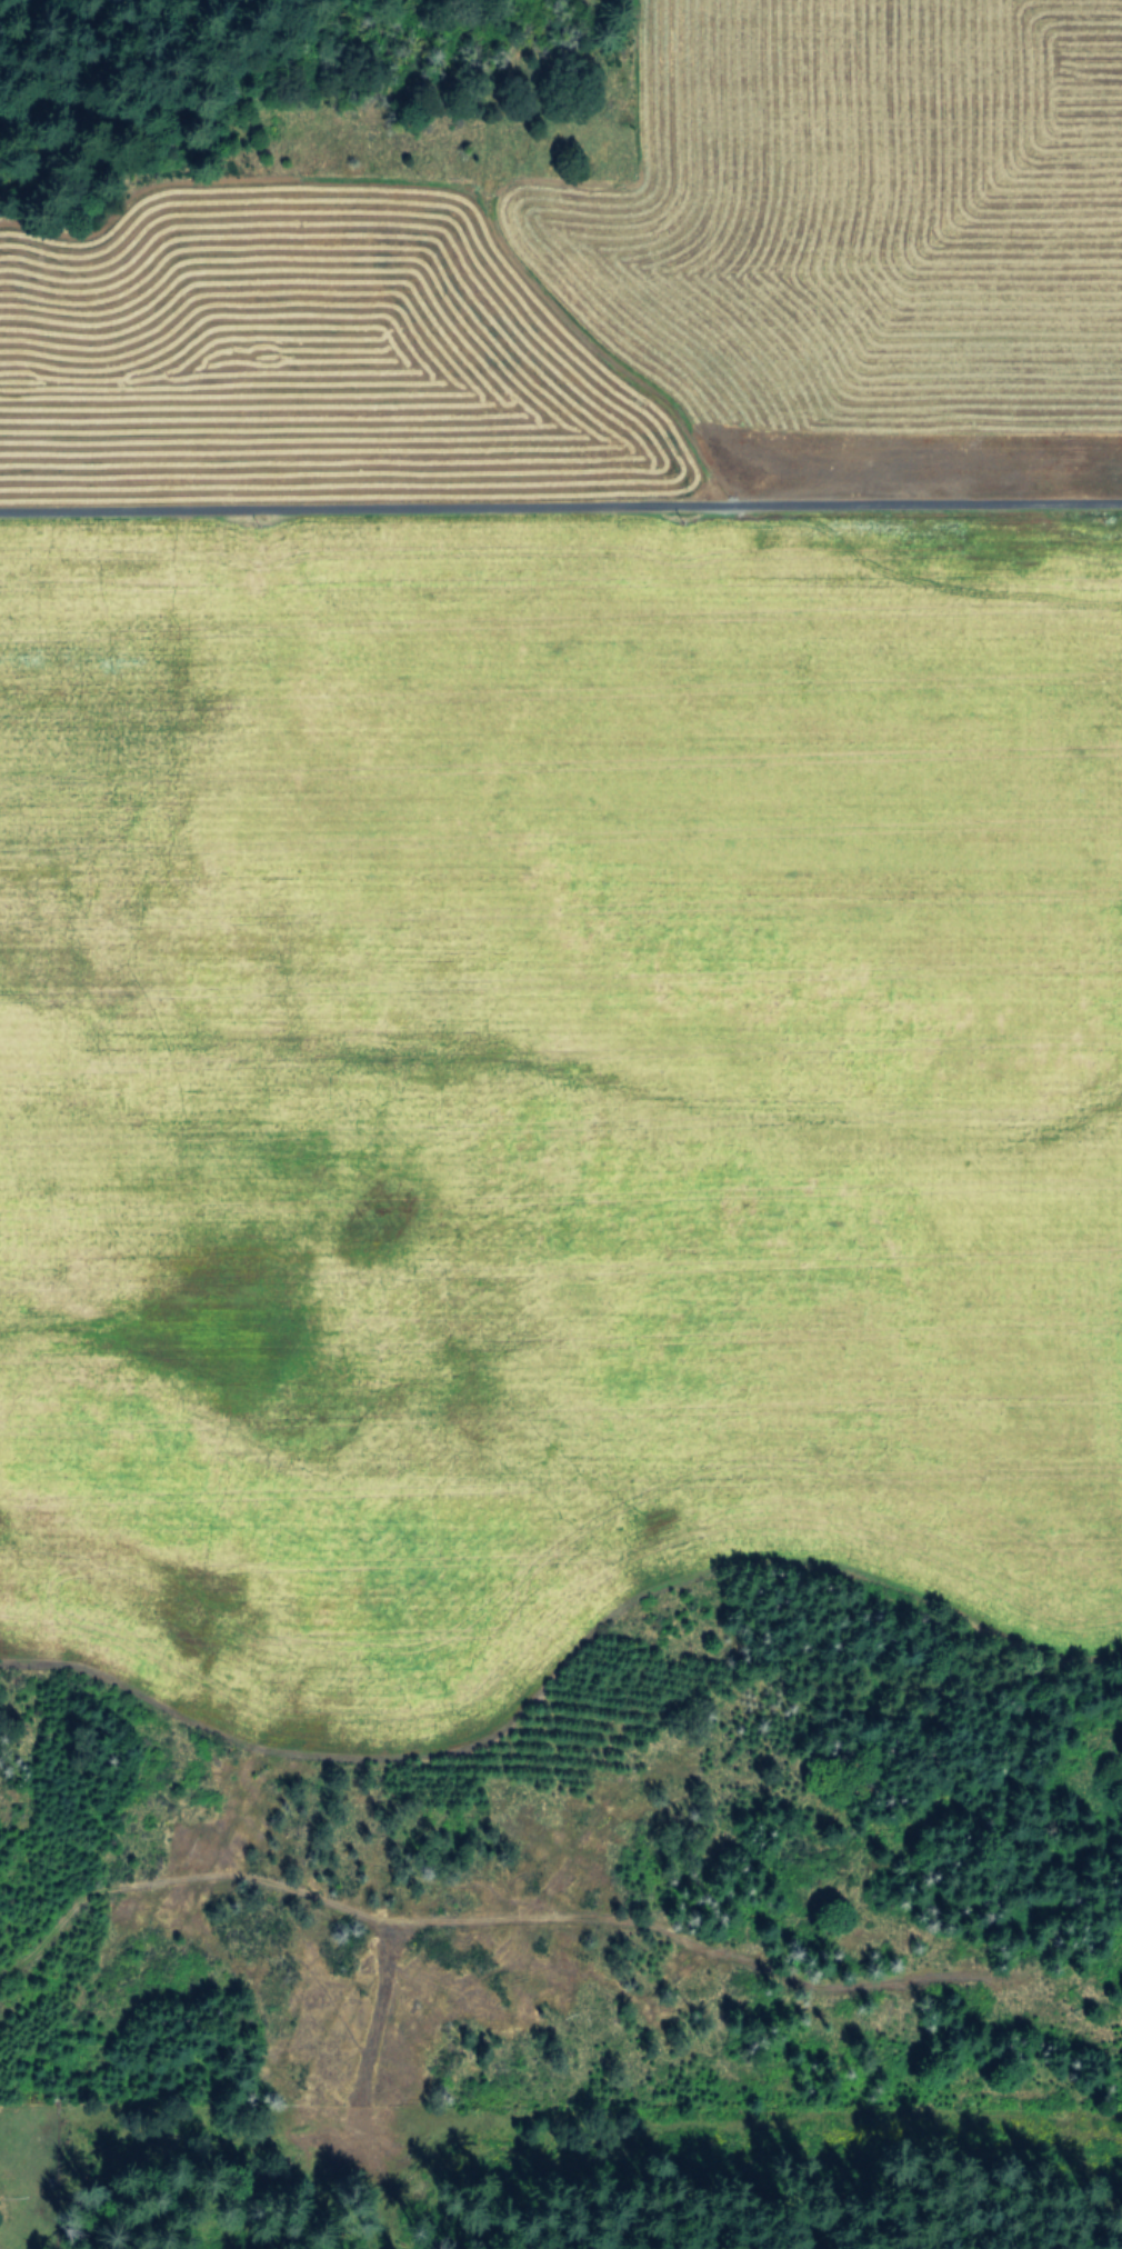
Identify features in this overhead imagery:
road: (560, 507)
road: (560, 1657)
road: (289, 1887)
road: (687, 1941)

